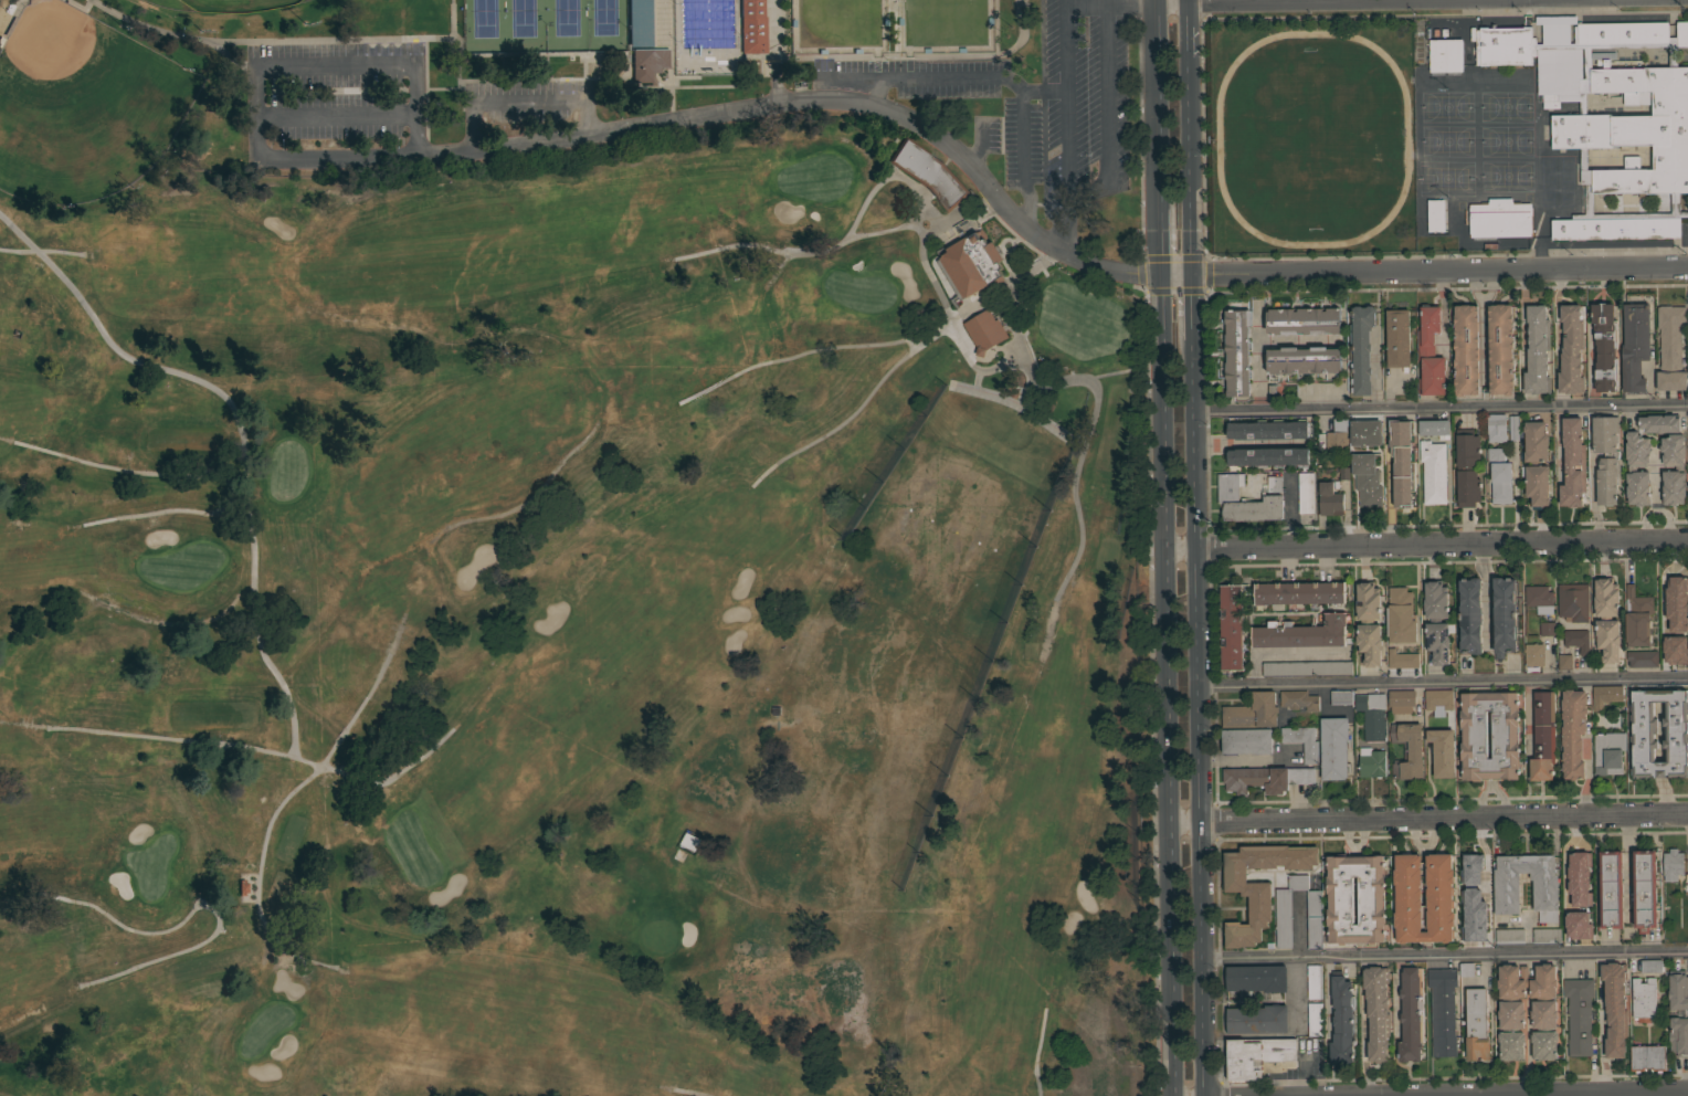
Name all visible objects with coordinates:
road: (1185, 1)
road: (1245, 1)
road: (1109, 2)
park: (221, 6)
building: (637, 23)
park: (542, 25)
building: (751, 27)
road: (147, 29)
road: (451, 30)
road: (1186, 31)
road: (1024, 32)
road: (437, 40)
road: (371, 41)
building: (1445, 55)
road: (228, 56)
road: (410, 63)
building: (646, 63)
road: (499, 68)
park: (401, 75)
road: (939, 78)
road: (616, 80)
road: (521, 101)
parking lot: (1028, 103)
parking lot: (333, 104)
park: (82, 106)
road: (1109, 114)
building: (1608, 117)
road: (1063, 126)
park: (1310, 137)
road: (1022, 141)
road: (334, 157)
building: (1603, 160)
building: (928, 173)
road: (862, 204)
building: (1435, 214)
building: (1499, 218)
road: (947, 222)
road: (1030, 229)
building: (1550, 230)
road: (41, 253)
building: (971, 264)
building: (1621, 317)
building: (1302, 322)
building: (984, 330)
building: (1687, 333)
building: (1397, 337)
building: (1604, 346)
building: (1635, 346)
building: (1670, 347)
road: (810, 349)
building: (1360, 349)
building: (1500, 349)
building: (1466, 350)
building: (1537, 350)
building: (1558, 350)
building: (1570, 350)
building: (1237, 351)
building: (1429, 352)
building: (1591, 356)
building: (1302, 360)
building: (1388, 360)
road: (1258, 361)
road: (975, 370)
road: (975, 380)
road: (1024, 393)
road: (1015, 403)
road: (1439, 408)
road: (852, 412)
building: (1657, 421)
building: (1434, 428)
building: (1496, 428)
building: (1513, 428)
building: (1268, 430)
building: (1365, 432)
road: (238, 433)
building: (1337, 436)
building: (1495, 454)
building: (1268, 456)
building: (1605, 457)
building: (1402, 462)
building: (1536, 462)
building: (1572, 463)
building: (1467, 467)
building: (1679, 467)
building: (1632, 468)
road: (124, 471)
building: (1433, 471)
building: (1367, 478)
building: (1500, 482)
building: (1274, 484)
building: (1390, 486)
building: (1526, 486)
building: (1596, 489)
road: (1655, 491)
building: (1305, 492)
building: (1329, 499)
building: (1245, 502)
road: (1654, 506)
road: (162, 512)
road: (1425, 544)
road: (1162, 548)
road: (1195, 577)
road: (1487, 590)
building: (1298, 592)
building: (1539, 598)
building: (1573, 601)
building: (1355, 603)
building: (1665, 605)
building: (1401, 615)
building: (1470, 615)
building: (1504, 615)
building: (1637, 618)
building: (1606, 619)
building: (1436, 621)
building: (1368, 622)
building: (1220, 623)
building: (1231, 626)
building: (1547, 629)
building: (1301, 632)
park: (572, 634)
building: (1625, 634)
building: (1576, 640)
building: (1442, 642)
building: (1358, 645)
building: (1533, 654)
building: (1402, 658)
building: (1642, 658)
building: (1564, 662)
building: (1218, 663)
building: (1307, 668)
road: (1443, 684)
building: (1605, 695)
building: (1341, 697)
building: (1298, 699)
building: (1401, 700)
building: (1438, 700)
building: (1252, 712)
building: (1371, 715)
building: (1572, 731)
building: (1642, 734)
building: (1474, 735)
building: (1542, 736)
building: (1246, 740)
building: (1301, 741)
building: (1333, 747)
road: (257, 750)
building: (1407, 750)
building: (1442, 751)
building: (1608, 752)
building: (1431, 753)
building: (1371, 762)
building: (1265, 778)
road: (272, 815)
road: (1427, 818)
building: (689, 841)
building: (1671, 864)
road: (1627, 865)
building: (1471, 867)
building: (1573, 881)
building: (1258, 885)
building: (1611, 888)
building: (1644, 890)
building: (1506, 895)
building: (1409, 897)
building: (1340, 900)
road: (210, 908)
building: (1300, 913)
building: (1314, 918)
building: (1595, 919)
building: (1576, 927)
building: (1475, 928)
building: (1545, 935)
building: (1509, 936)
road: (1445, 957)
building: (1650, 966)
building: (1466, 969)
building: (1256, 978)
building: (1314, 981)
road: (1395, 997)
building: (1643, 999)
building: (1615, 1008)
building: (1375, 1011)
building: (1442, 1011)
building: (1685, 1013)
building: (1411, 1014)
building: (1511, 1014)
building: (1578, 1015)
building: (1314, 1018)
building: (1257, 1019)
building: (1341, 1019)
building: (1476, 1024)
road: (1601, 1043)
road: (1035, 1052)
building: (1602, 1052)
building: (1258, 1056)
building: (1647, 1057)
road: (688, 1092)

